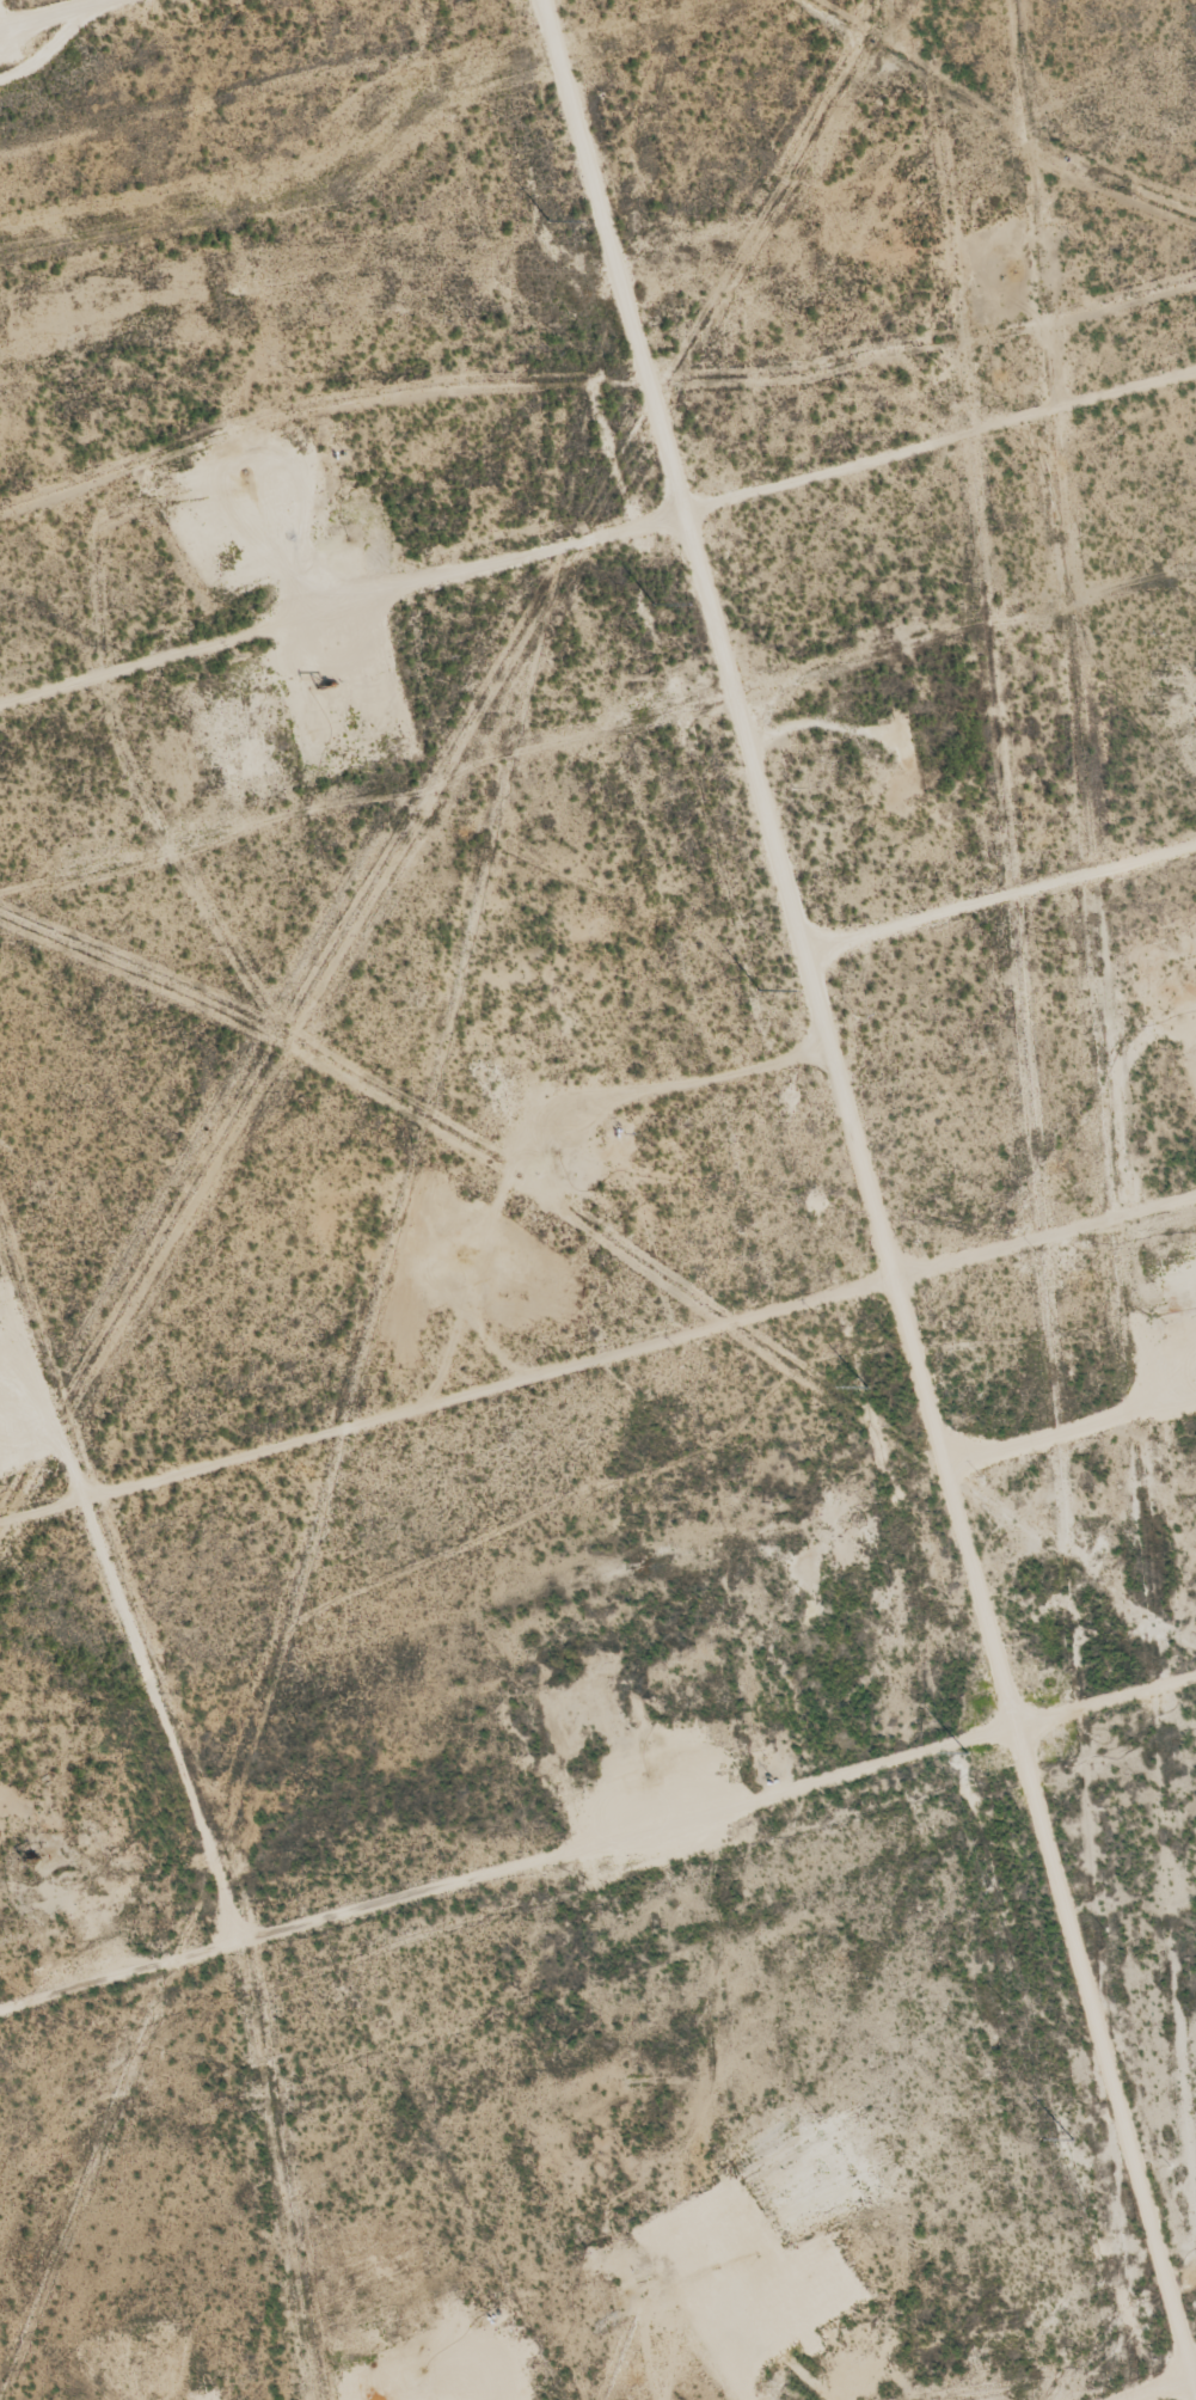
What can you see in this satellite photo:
road: (24, 6)
power tower: (548, 220)
road: (596, 527)
power tower: (652, 604)
power tower: (758, 986)
road: (828, 1199)
road: (596, 1351)
power tower: (869, 1383)
power tower: (969, 1751)
road: (597, 1832)
power tower: (1073, 2137)
road: (1133, 2380)

